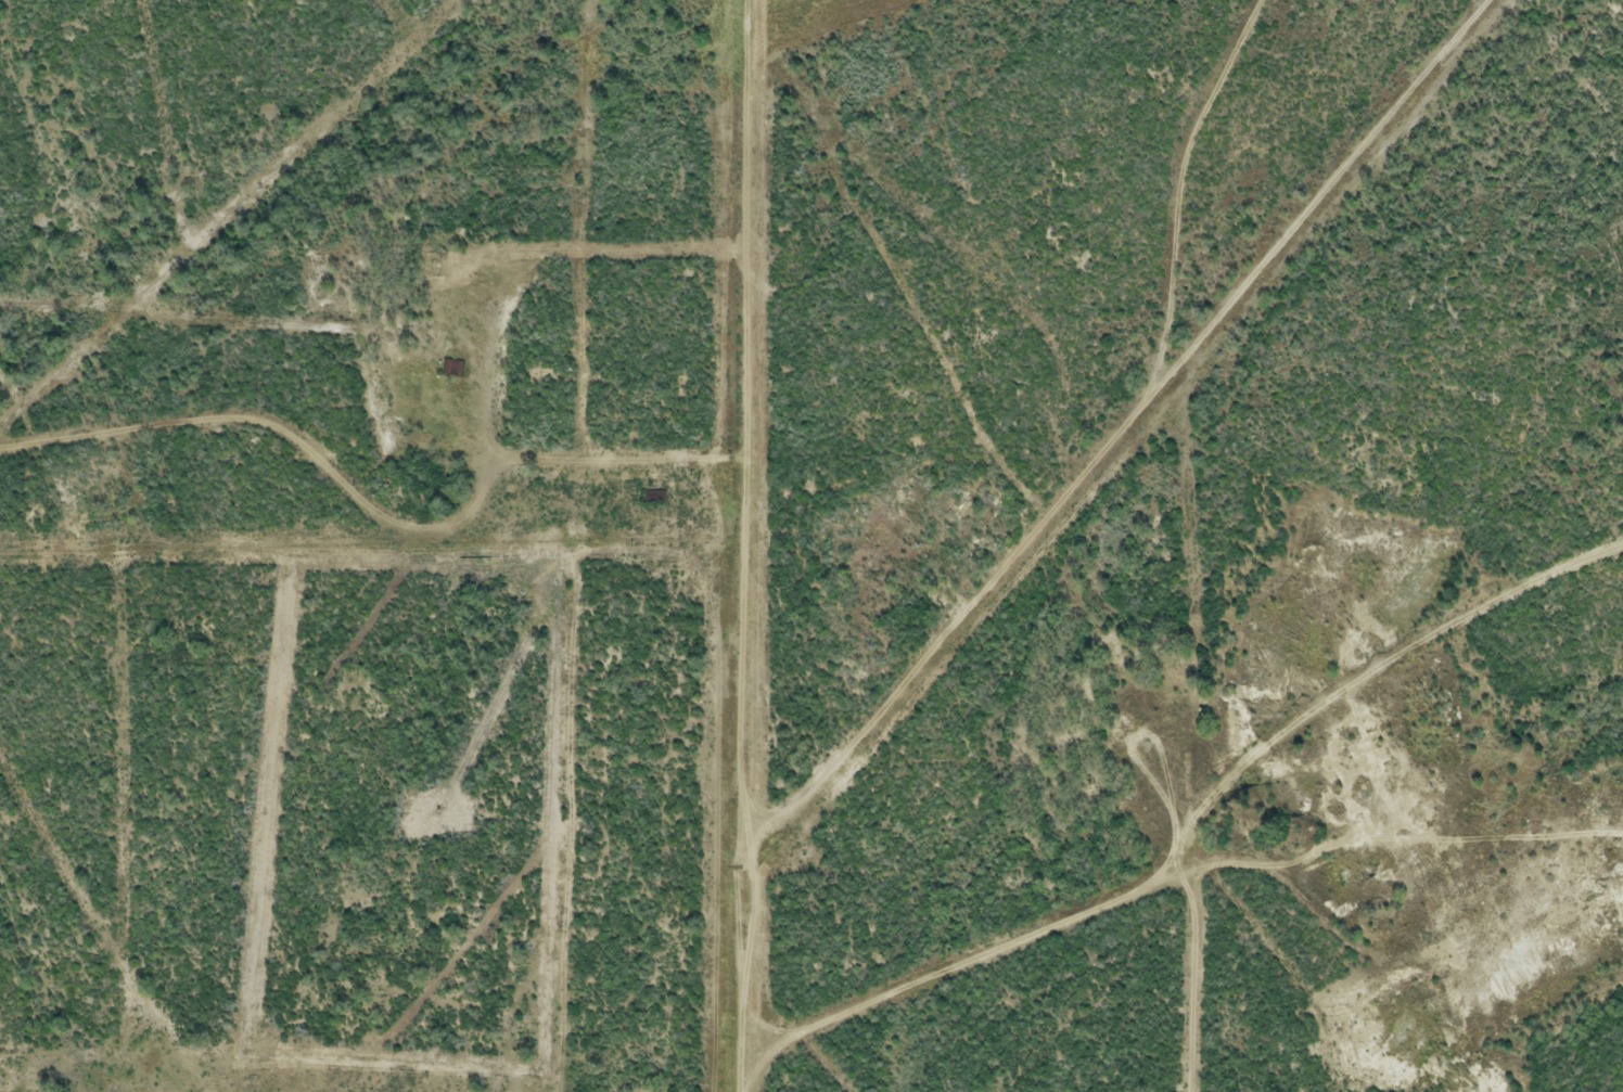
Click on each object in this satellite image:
building: (455, 352)

